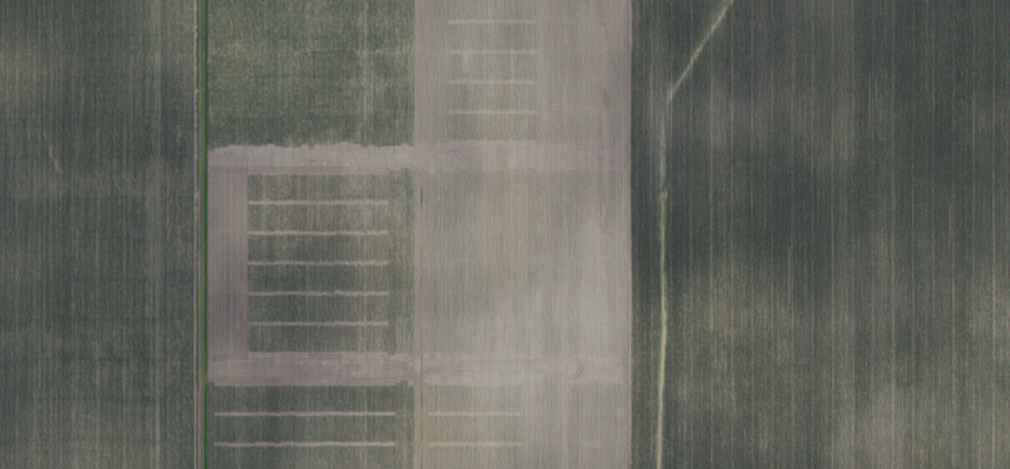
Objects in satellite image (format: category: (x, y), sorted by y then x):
crop: (505, 234)

